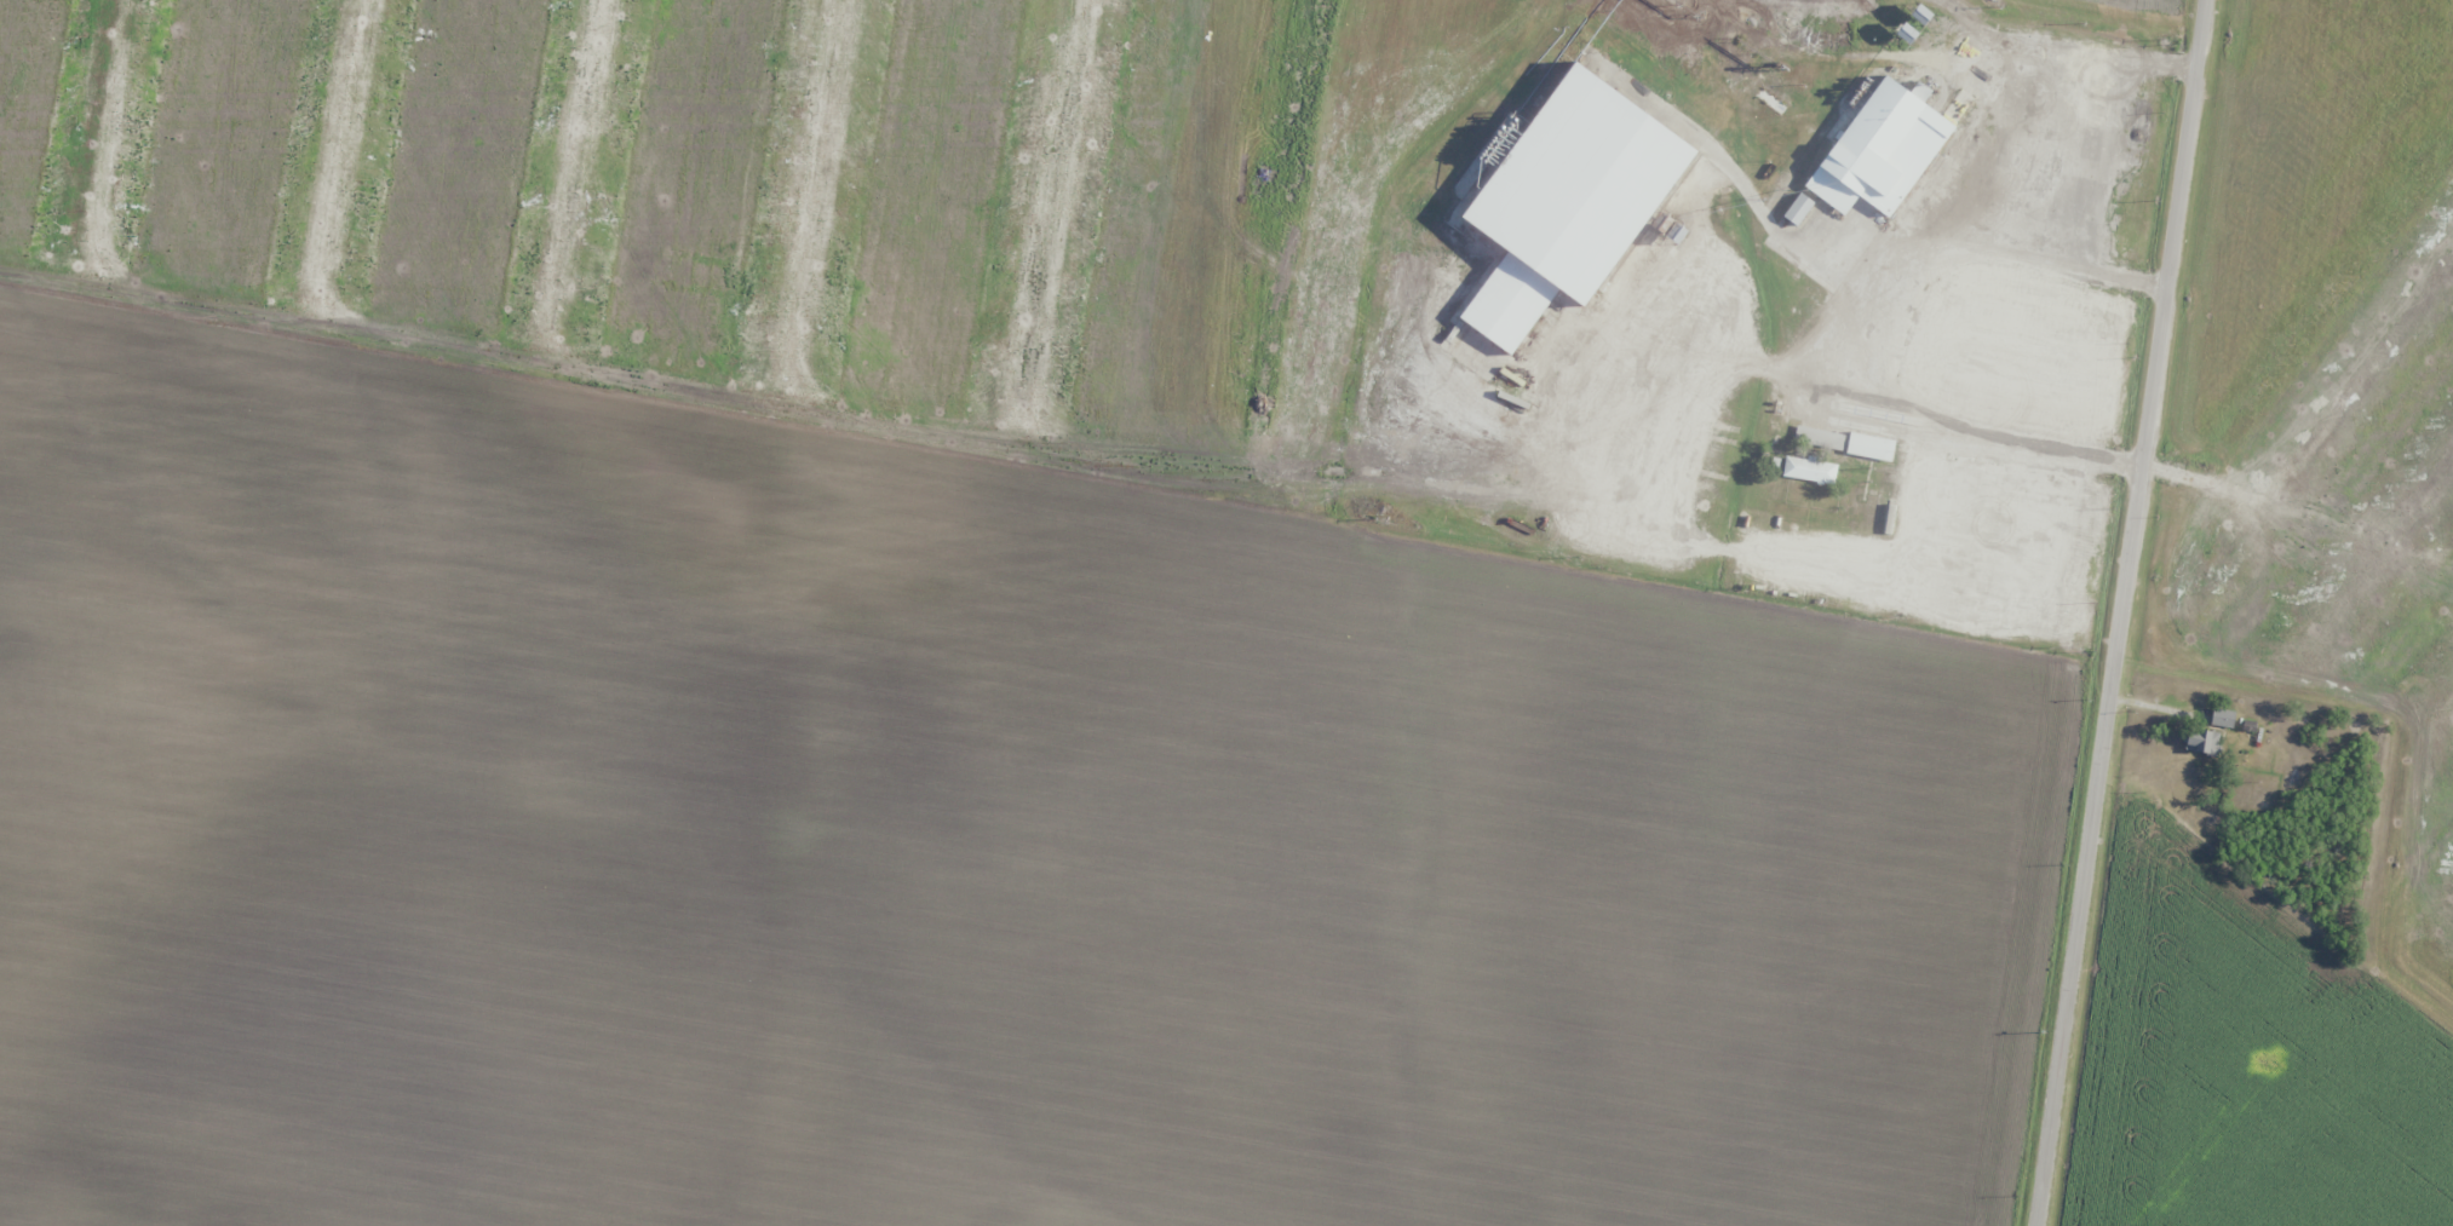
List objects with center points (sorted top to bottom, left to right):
road: (2047, 90)
building: (1878, 149)
building: (1796, 208)
road: (1867, 320)
road: (1747, 351)
building: (1819, 436)
building: (1868, 445)
building: (1809, 470)
road: (2124, 612)
building: (2222, 716)
building: (2200, 741)

